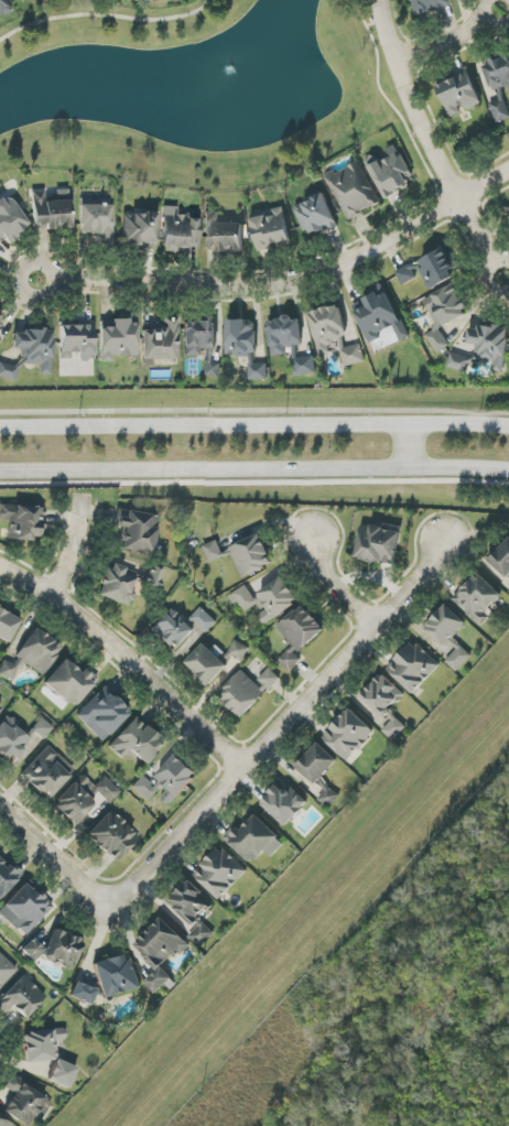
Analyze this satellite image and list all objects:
building: (429, 6)
building: (3, 8)
road: (110, 19)
road: (375, 25)
road: (399, 30)
road: (450, 42)
fountain: (229, 75)
building: (499, 87)
building: (458, 94)
road: (392, 107)
road: (427, 144)
road: (481, 171)
building: (390, 172)
road: (484, 186)
building: (353, 190)
building: (51, 210)
building: (315, 215)
building: (97, 220)
building: (10, 221)
building: (270, 228)
building: (139, 230)
building: (178, 231)
building: (223, 235)
building: (436, 269)
building: (409, 272)
road: (258, 289)
building: (444, 313)
building: (380, 315)
building: (0, 327)
building: (328, 328)
building: (118, 338)
building: (76, 342)
building: (162, 342)
building: (290, 343)
building: (490, 345)
building: (202, 346)
building: (245, 346)
building: (31, 354)
building: (353, 355)
building: (457, 361)
road: (254, 431)
road: (254, 477)
building: (23, 522)
building: (138, 532)
building: (378, 543)
road: (72, 550)
building: (251, 555)
building: (502, 559)
road: (378, 565)
building: (154, 577)
building: (118, 585)
building: (478, 598)
building: (267, 599)
building: (8, 626)
building: (181, 627)
building: (299, 635)
building: (450, 636)
building: (239, 650)
building: (37, 652)
road: (124, 659)
building: (207, 664)
building: (413, 667)
building: (8, 670)
building: (71, 683)
building: (247, 691)
building: (386, 704)
building: (0, 708)
building: (102, 714)
road: (278, 724)
building: (42, 729)
building: (348, 735)
building: (12, 739)
building: (137, 743)
building: (317, 764)
building: (47, 773)
building: (167, 781)
building: (84, 798)
building: (328, 798)
building: (284, 804)
building: (112, 837)
building: (254, 840)
road: (55, 854)
building: (220, 874)
building: (6, 879)
building: (25, 909)
building: (194, 910)
building: (63, 950)
building: (32, 951)
building: (161, 952)
building: (6, 971)
building: (116, 976)
building: (83, 994)
building: (21, 998)
building: (42, 1046)
building: (62, 1075)
building: (25, 1103)
building: (3, 1122)

